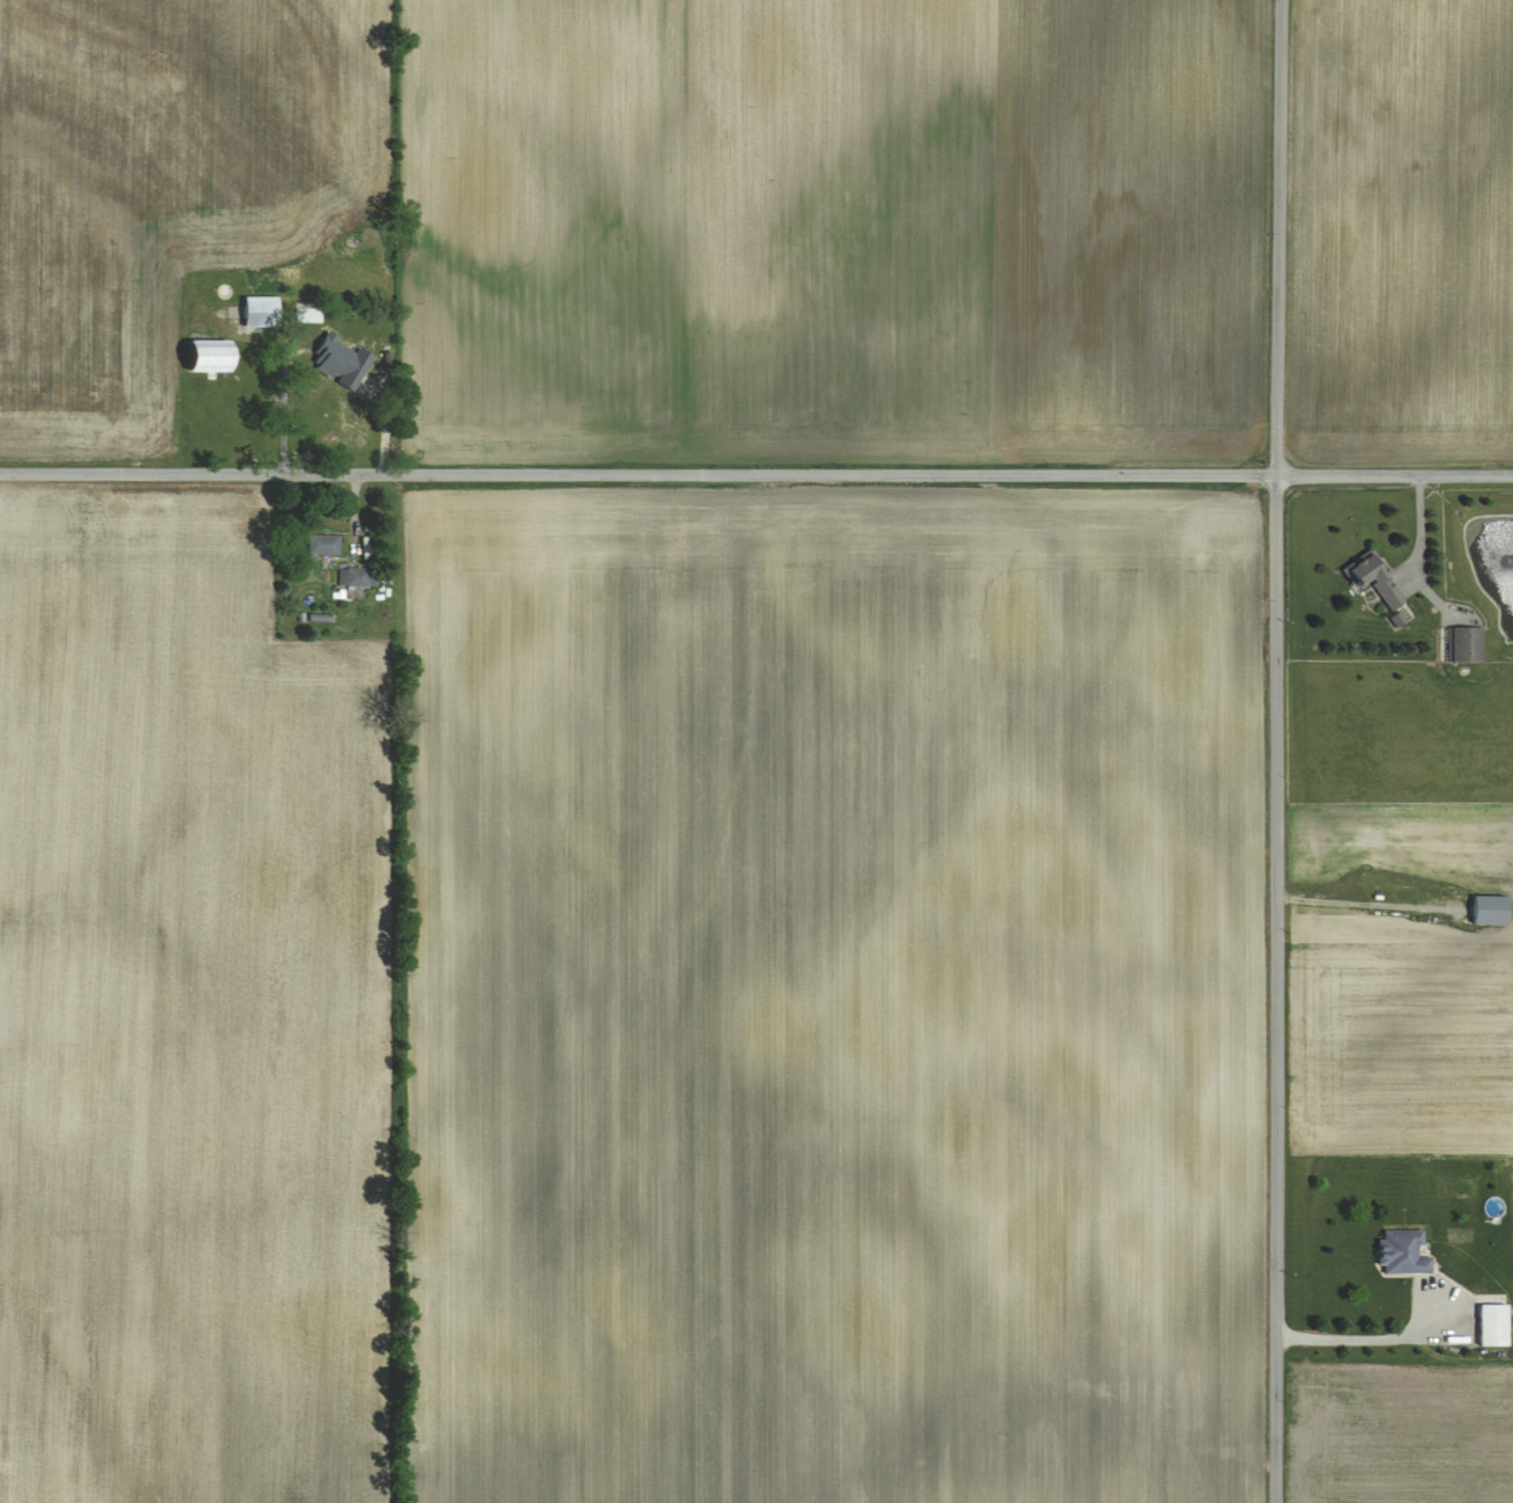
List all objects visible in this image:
building: (259, 311)
building: (307, 315)
building: (207, 356)
building: (349, 363)
building: (347, 421)
road: (756, 469)
road: (1419, 532)
building: (322, 544)
building: (356, 577)
building: (1374, 579)
building: (1465, 645)
road: (1276, 751)
building: (1489, 909)
building: (1402, 1250)
building: (1492, 1326)
road: (1363, 1334)

